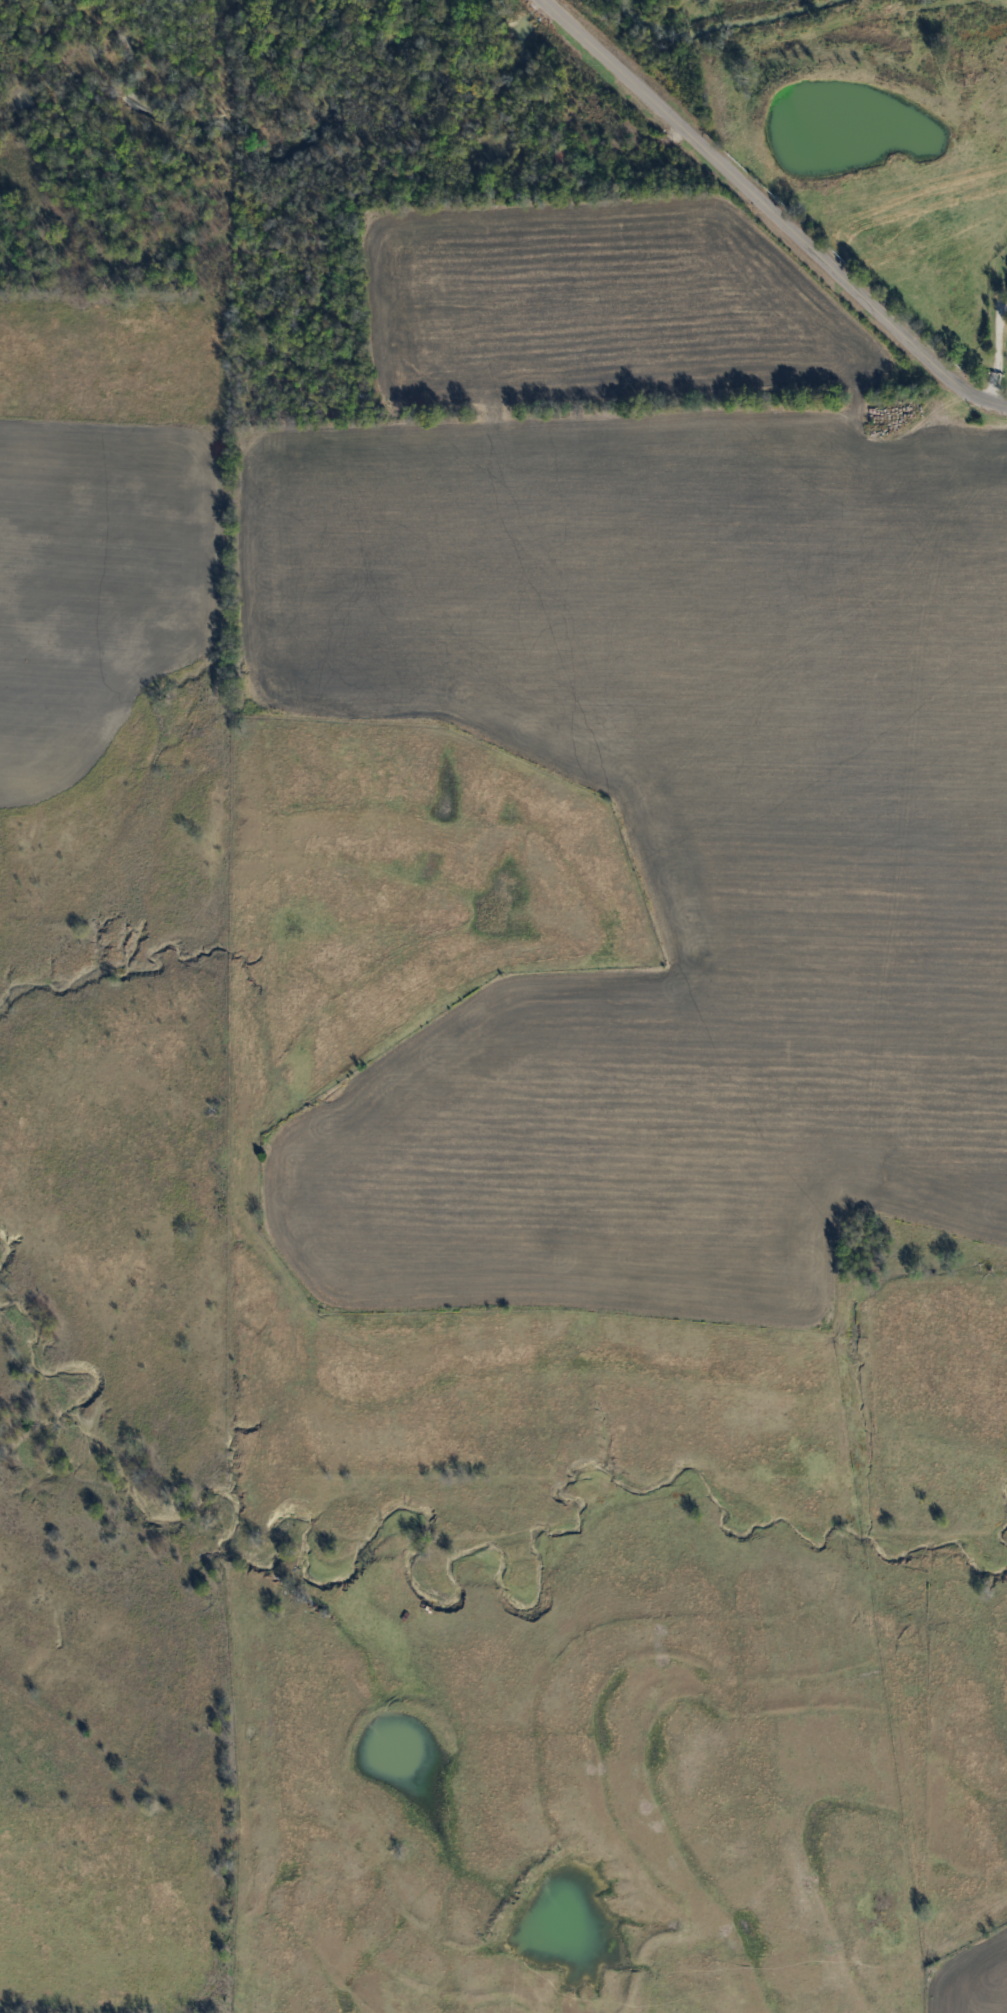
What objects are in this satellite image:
road: (775, 209)
road: (993, 348)

